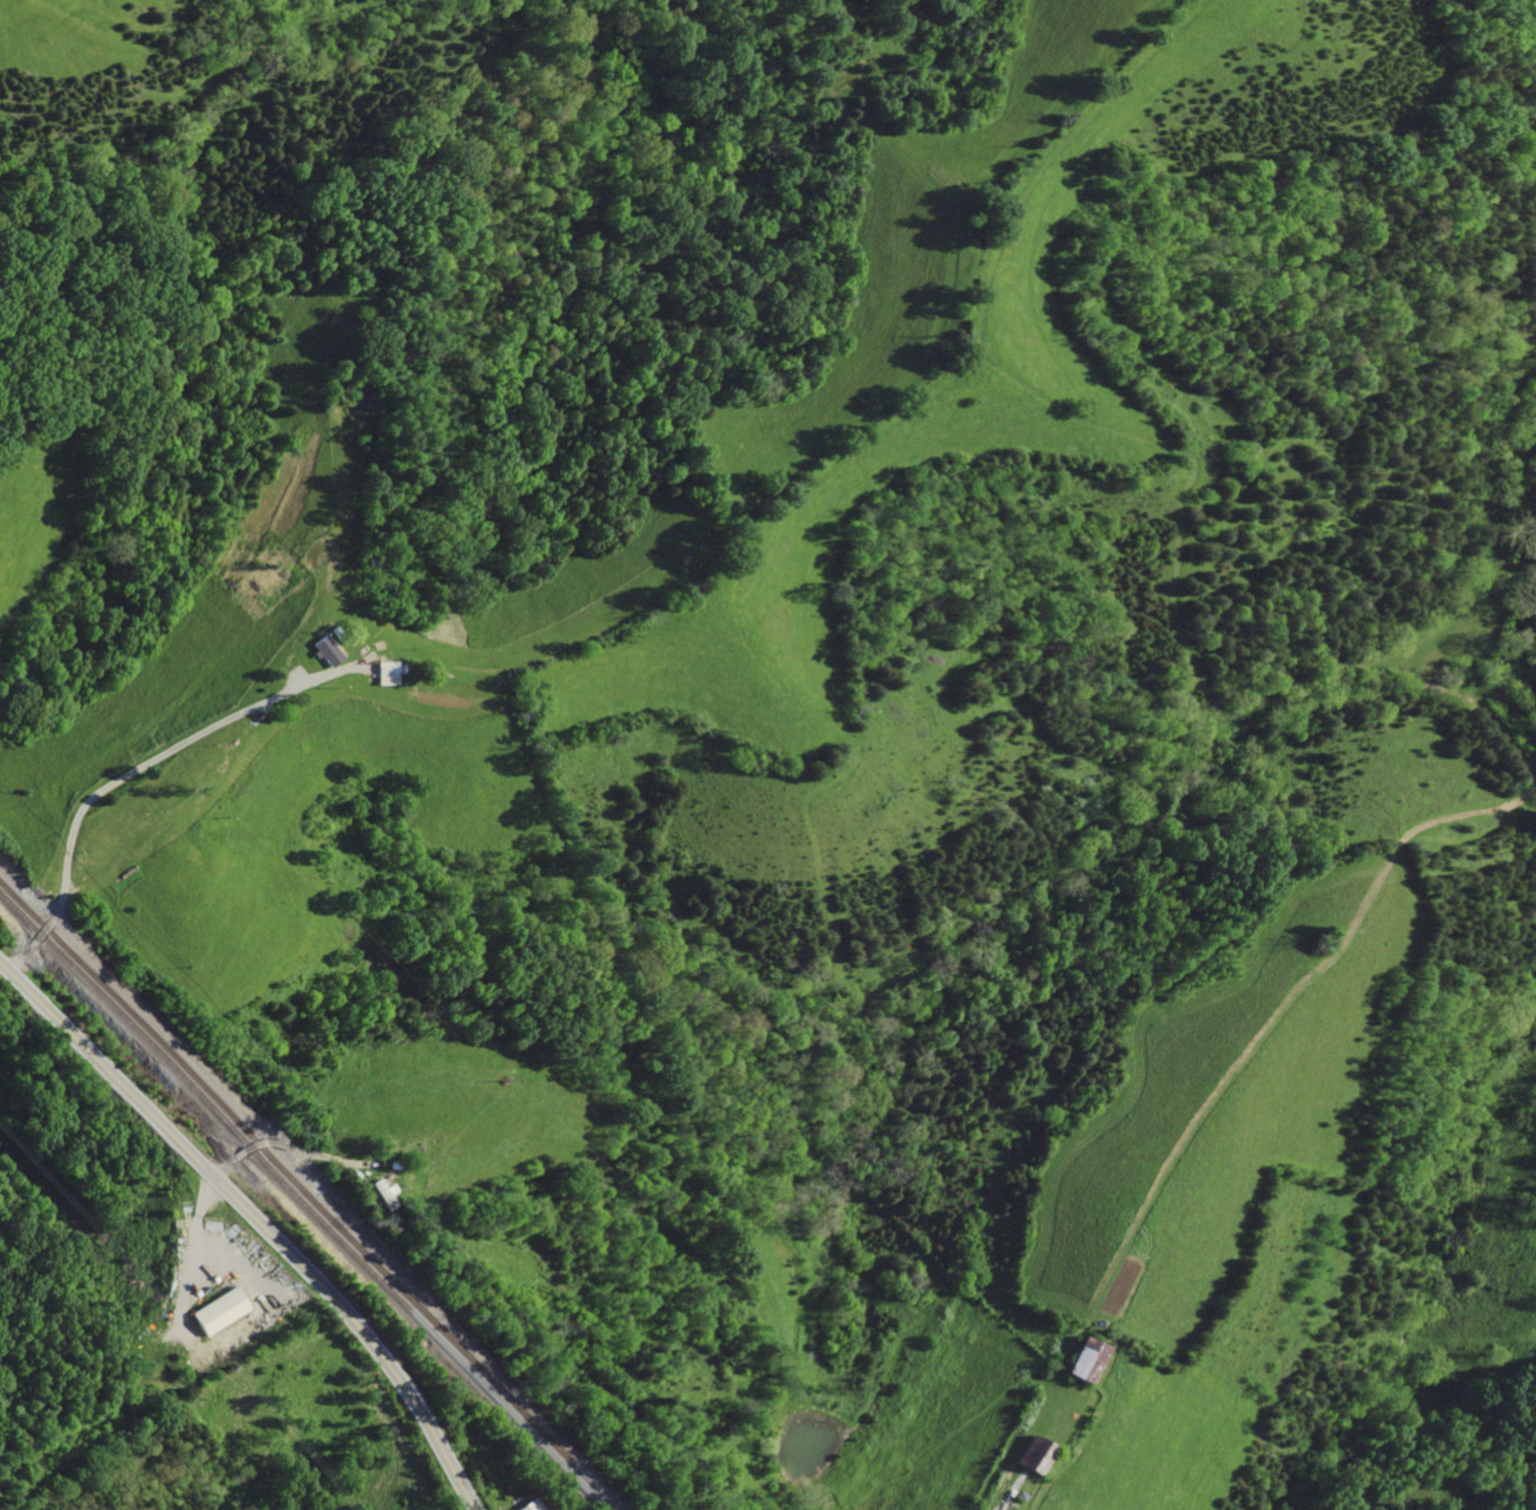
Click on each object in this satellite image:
building: (324, 651)
building: (384, 672)
road: (120, 783)
road: (281, 1146)
building: (381, 1192)
railway: (311, 1195)
railway: (305, 1201)
road: (258, 1219)
building: (220, 1312)
building: (1079, 1360)
building: (1029, 1455)
building: (527, 1505)

